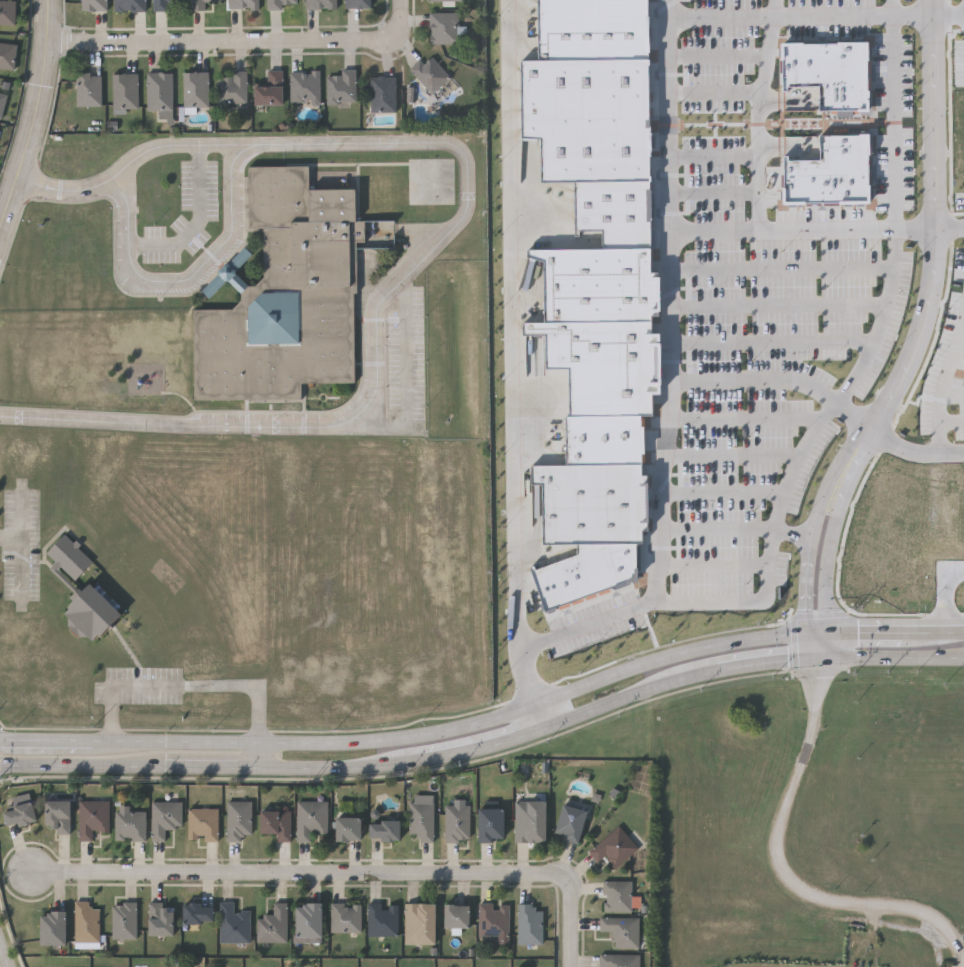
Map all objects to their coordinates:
building: (440, 0)
building: (201, 3)
building: (357, 3)
building: (167, 4)
building: (242, 4)
building: (276, 4)
building: (320, 4)
building: (93, 5)
building: (129, 5)
road: (776, 9)
road: (895, 9)
building: (7, 12)
road: (963, 16)
road: (401, 18)
road: (805, 18)
road: (951, 18)
building: (443, 27)
building: (606, 29)
road: (225, 47)
building: (7, 55)
road: (720, 55)
building: (428, 73)
building: (833, 73)
building: (340, 86)
building: (232, 87)
building: (304, 87)
building: (270, 88)
building: (87, 89)
building: (194, 89)
building: (124, 90)
building: (158, 91)
road: (717, 92)
building: (381, 93)
building: (2, 104)
road: (36, 119)
building: (601, 120)
road: (761, 125)
road: (895, 125)
road: (324, 143)
road: (179, 145)
road: (716, 153)
building: (834, 173)
road: (716, 189)
road: (201, 198)
building: (625, 214)
road: (952, 231)
road: (688, 233)
road: (154, 244)
road: (939, 260)
road: (782, 267)
building: (611, 286)
building: (287, 294)
road: (782, 302)
road: (674, 306)
road: (881, 322)
road: (508, 325)
road: (774, 341)
building: (617, 367)
road: (717, 380)
road: (939, 380)
road: (408, 392)
road: (854, 415)
road: (749, 416)
road: (948, 419)
road: (165, 420)
building: (607, 441)
road: (737, 452)
road: (914, 453)
road: (724, 493)
building: (589, 502)
building: (537, 506)
road: (718, 526)
road: (10, 537)
building: (68, 558)
road: (809, 560)
road: (828, 561)
road: (715, 564)
building: (595, 577)
road: (947, 594)
road: (665, 602)
building: (92, 614)
traffic signals: (806, 614)
road: (818, 629)
traffic signals: (839, 632)
road: (819, 644)
road: (891, 655)
traffic signals: (785, 659)
road: (768, 661)
traffic signals: (820, 670)
road: (185, 687)
road: (629, 695)
road: (540, 702)
road: (538, 716)
road: (55, 741)
road: (483, 745)
road: (261, 753)
road: (82, 763)
road: (212, 765)
road: (342, 765)
building: (20, 814)
building: (59, 815)
building: (92, 817)
building: (164, 817)
building: (310, 818)
building: (421, 819)
building: (239, 820)
building: (531, 821)
building: (129, 823)
building: (457, 823)
building: (572, 823)
building: (202, 824)
building: (277, 824)
building: (493, 824)
building: (349, 828)
building: (385, 830)
building: (614, 847)
road: (782, 865)
road: (300, 876)
building: (617, 895)
building: (199, 913)
building: (458, 915)
building: (346, 917)
building: (162, 919)
building: (383, 919)
building: (494, 919)
building: (123, 920)
building: (310, 920)
road: (573, 920)
building: (86, 922)
building: (421, 923)
building: (529, 923)
building: (233, 924)
building: (273, 925)
building: (54, 928)
building: (622, 930)
building: (619, 960)
road: (1, 963)

